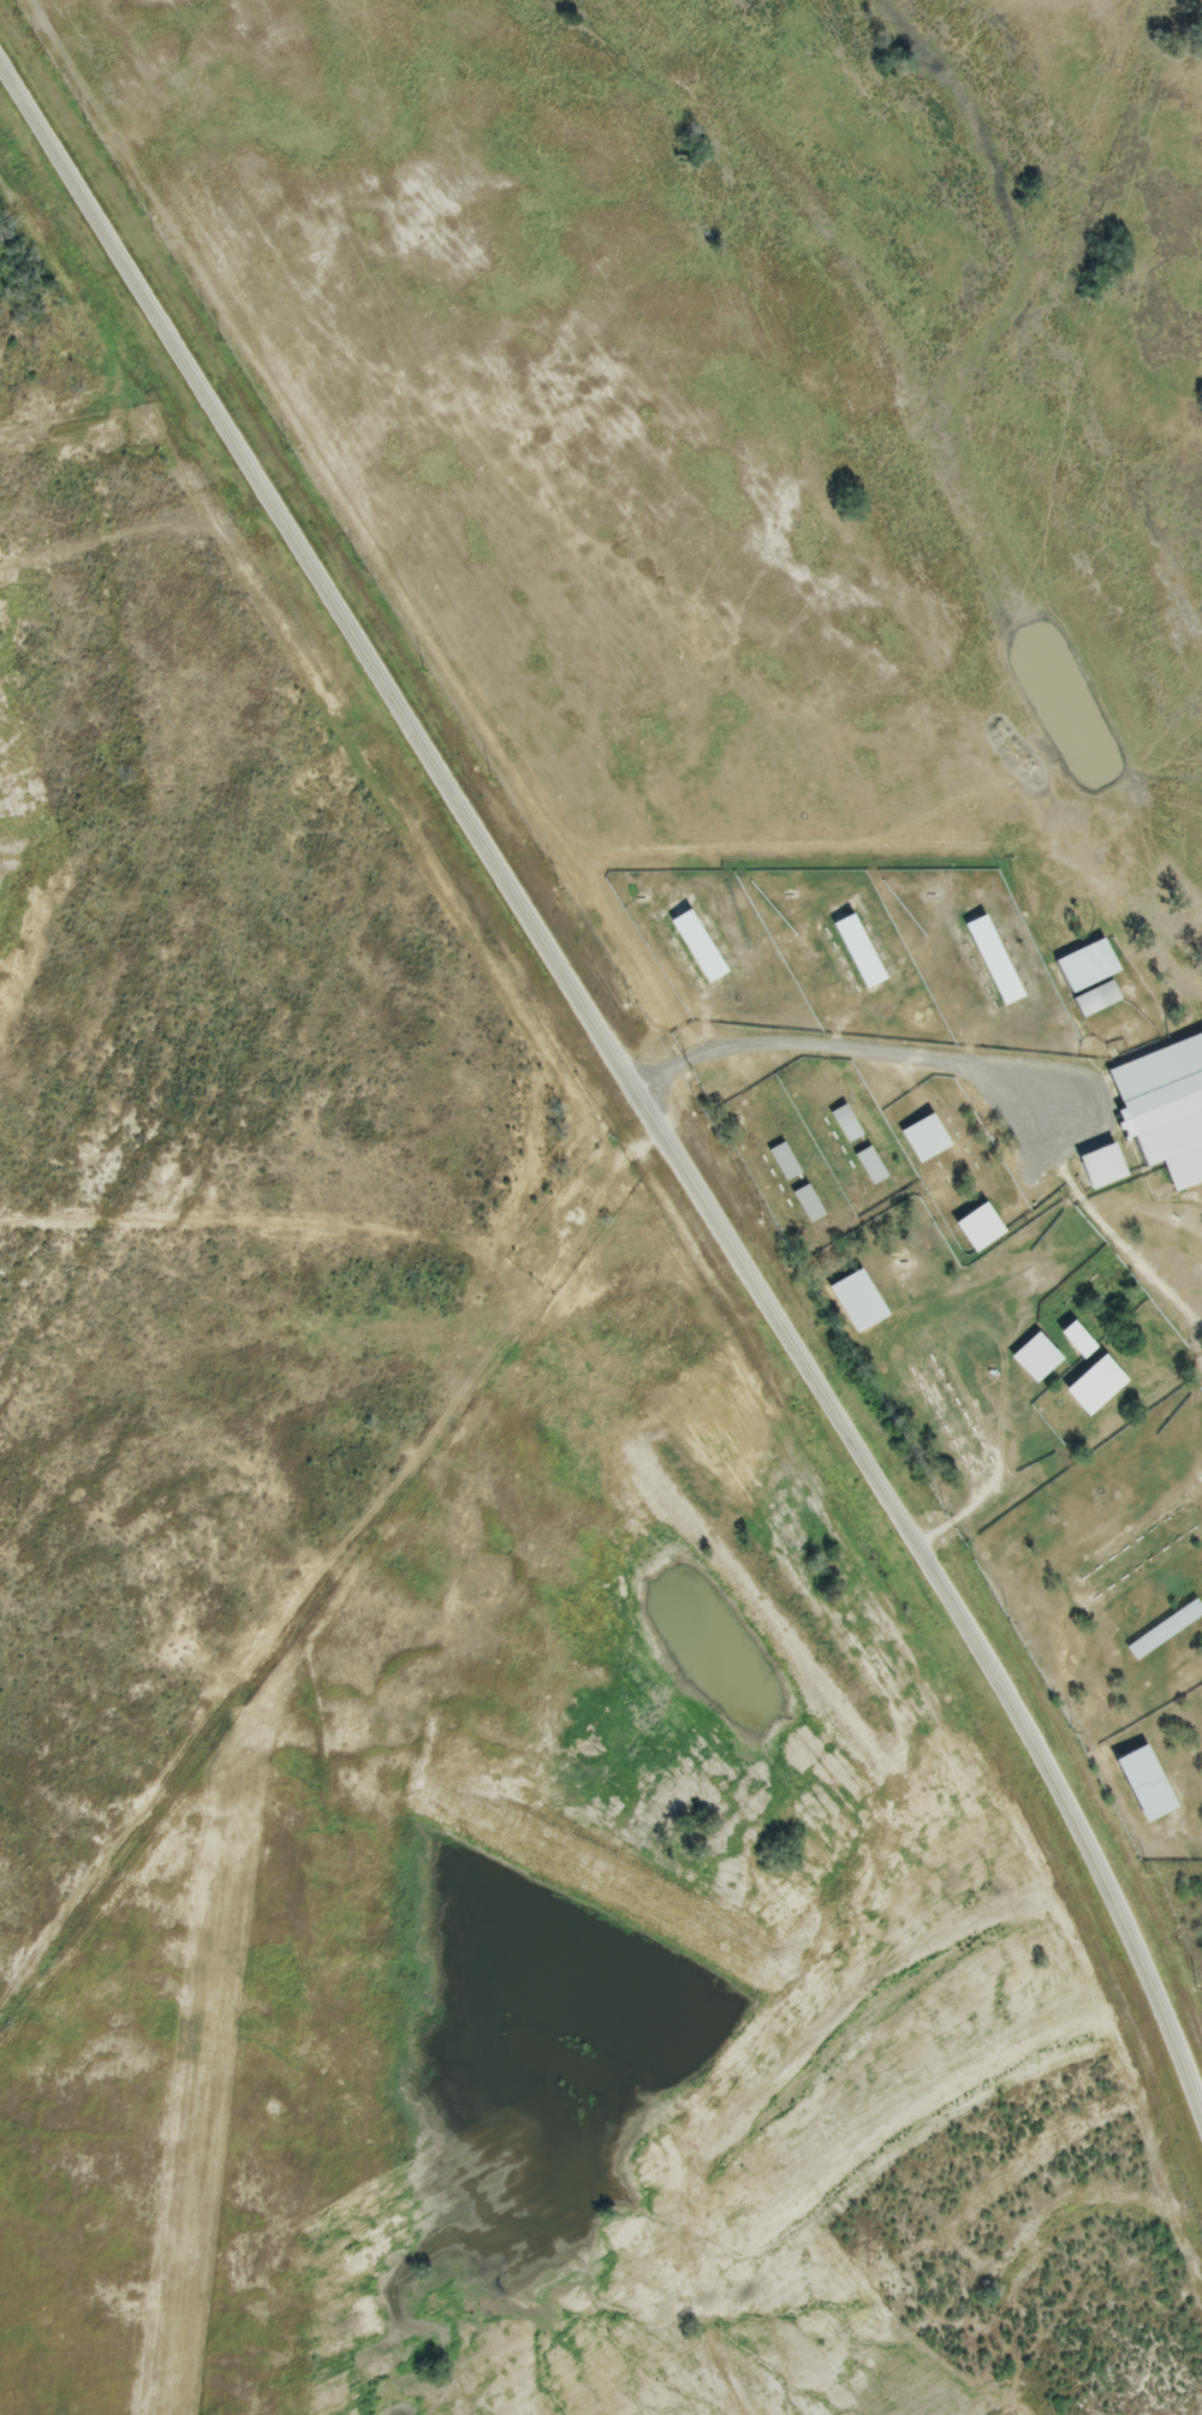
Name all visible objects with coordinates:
building: (864, 968)
building: (1094, 1001)
road: (968, 1071)
road: (626, 1072)
building: (1164, 1111)
building: (844, 1125)
building: (781, 1164)
building: (868, 1167)
building: (805, 1206)
building: (1162, 1631)

